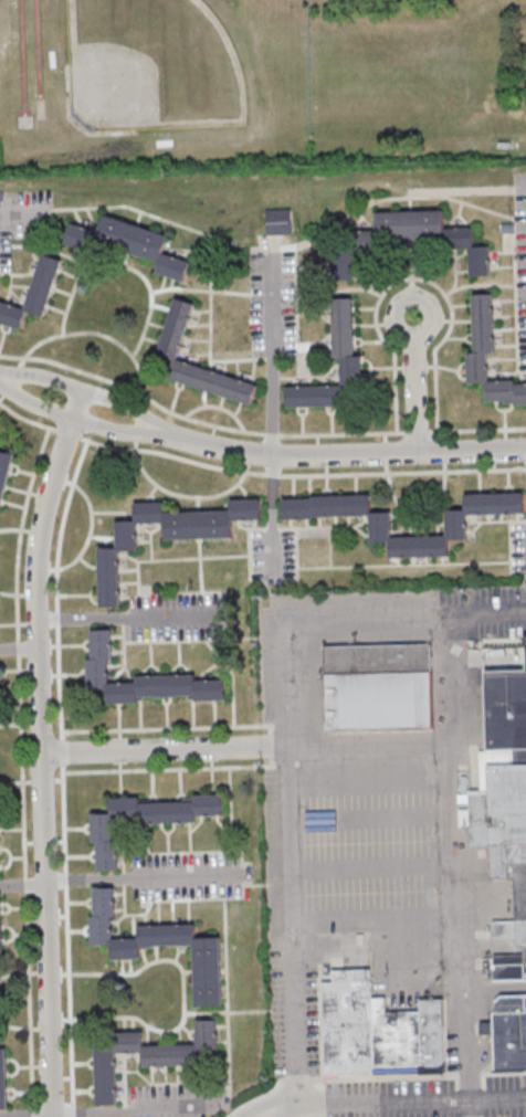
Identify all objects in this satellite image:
park: (150, 67)
road: (463, 202)
road: (25, 210)
parking lot: (22, 219)
building: (278, 221)
building: (430, 234)
road: (235, 240)
building: (133, 244)
road: (78, 266)
road: (15, 273)
road: (147, 285)
road: (199, 289)
building: (33, 294)
parking lot: (272, 297)
building: (483, 323)
road: (210, 324)
building: (176, 327)
building: (344, 327)
road: (80, 333)
road: (271, 358)
road: (236, 359)
road: (511, 372)
road: (302, 377)
building: (215, 382)
road: (417, 384)
road: (217, 407)
road: (27, 419)
road: (199, 420)
road: (141, 423)
road: (477, 429)
road: (420, 431)
road: (333, 456)
building: (4, 474)
road: (301, 474)
road: (180, 495)
road: (326, 526)
building: (380, 527)
road: (272, 528)
road: (20, 531)
building: (167, 536)
road: (249, 546)
road: (296, 552)
parking lot: (272, 554)
road: (177, 559)
road: (403, 565)
road: (200, 566)
road: (57, 587)
road: (486, 612)
parking lot: (173, 617)
road: (222, 618)
road: (124, 646)
road: (20, 650)
building: (140, 679)
building: (378, 686)
road: (166, 728)
road: (372, 744)
road: (278, 748)
road: (42, 750)
road: (61, 750)
road: (155, 750)
road: (166, 768)
road: (292, 780)
road: (455, 802)
building: (504, 805)
building: (145, 821)
building: (0, 862)
road: (143, 877)
road: (24, 885)
road: (23, 886)
building: (0, 928)
road: (67, 939)
building: (159, 945)
road: (495, 988)
building: (378, 1031)
building: (507, 1033)
road: (465, 1043)
building: (149, 1056)
building: (3, 1082)
road: (499, 1095)
road: (399, 1097)
road: (282, 1099)
road: (312, 1100)
road: (474, 1106)

